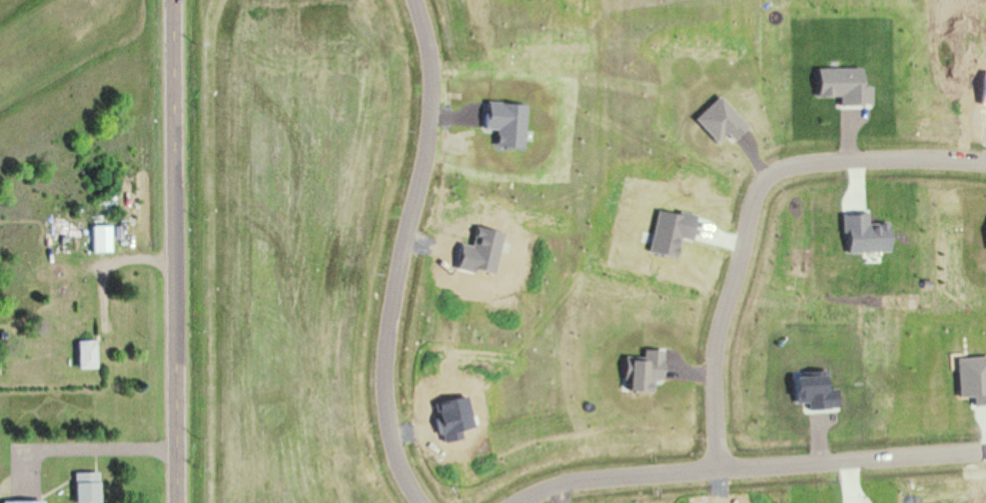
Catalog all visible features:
airport runway: (48, 42)
airport: (81, 107)
road: (756, 216)
building: (101, 239)
road: (175, 251)
road: (408, 254)
building: (86, 354)
road: (101, 452)
road: (857, 463)
road: (628, 478)
building: (86, 487)
building: (22, 502)

